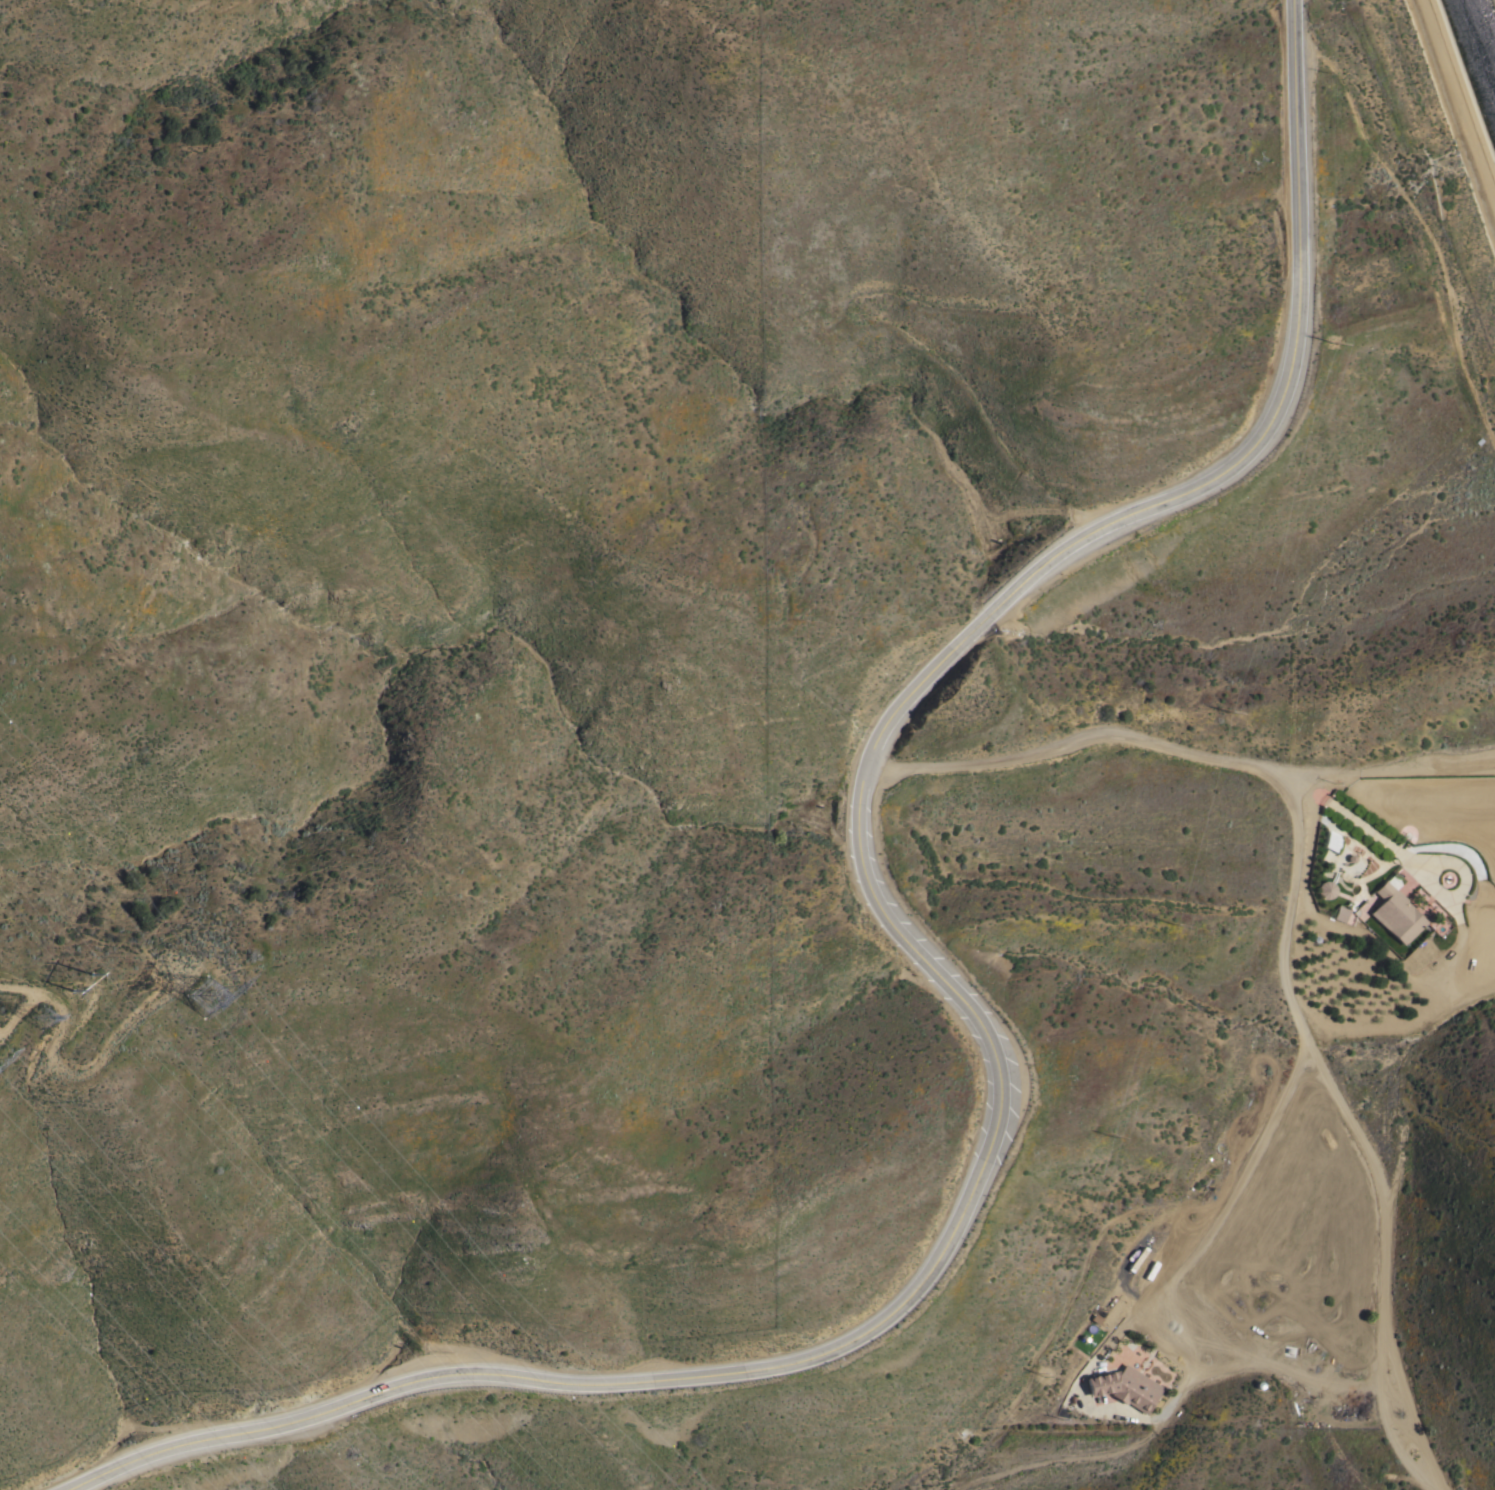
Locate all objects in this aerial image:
road: (1456, 105)
road: (1365, 829)
building: (1325, 889)
building: (1395, 913)
building: (1340, 914)
road: (1286, 937)
power tower: (84, 984)
road: (953, 990)
power tower: (201, 1000)
power tower: (41, 1018)
road: (1213, 1222)
building: (1124, 1387)
road: (1168, 1412)

